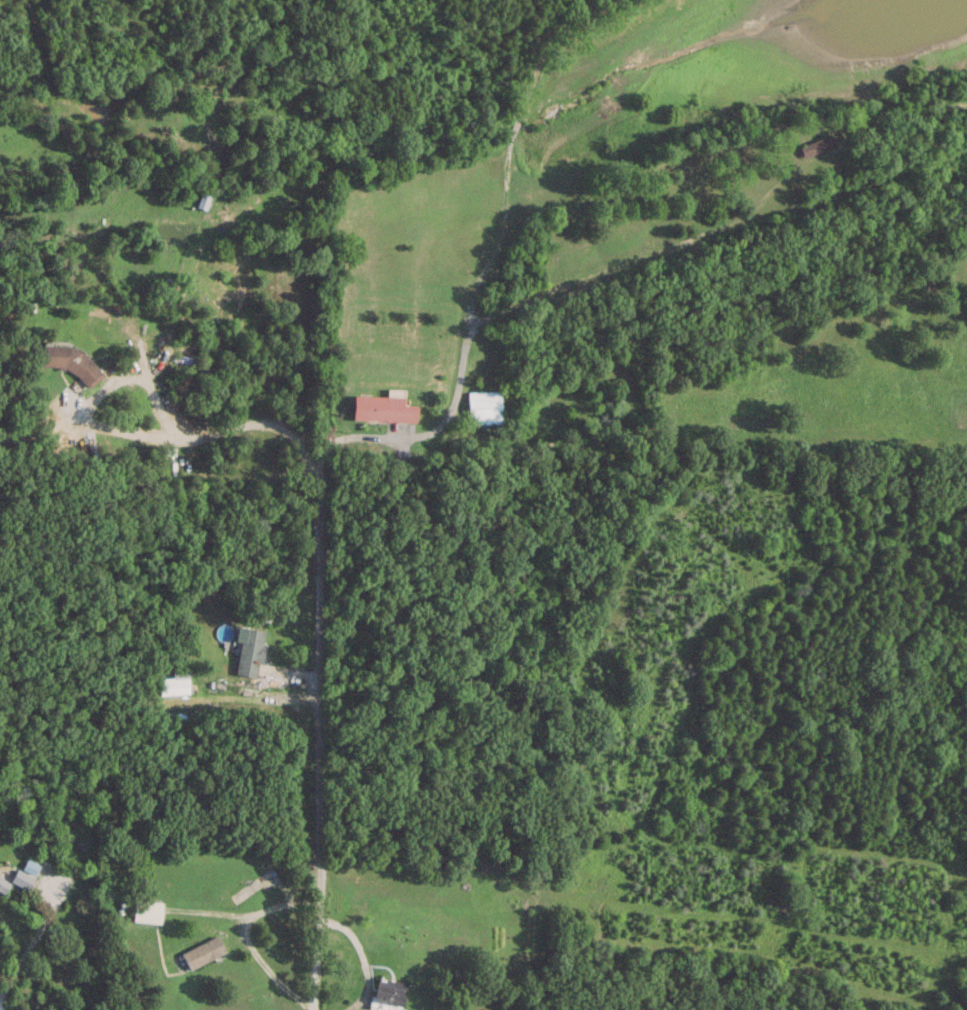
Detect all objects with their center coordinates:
building: (816, 148)
building: (202, 202)
road: (715, 231)
road: (159, 404)
building: (380, 407)
building: (481, 408)
road: (317, 445)
building: (247, 651)
building: (178, 685)
building: (20, 879)
building: (3, 884)
building: (142, 910)
road: (35, 937)
road: (244, 939)
building: (198, 951)
building: (384, 994)

